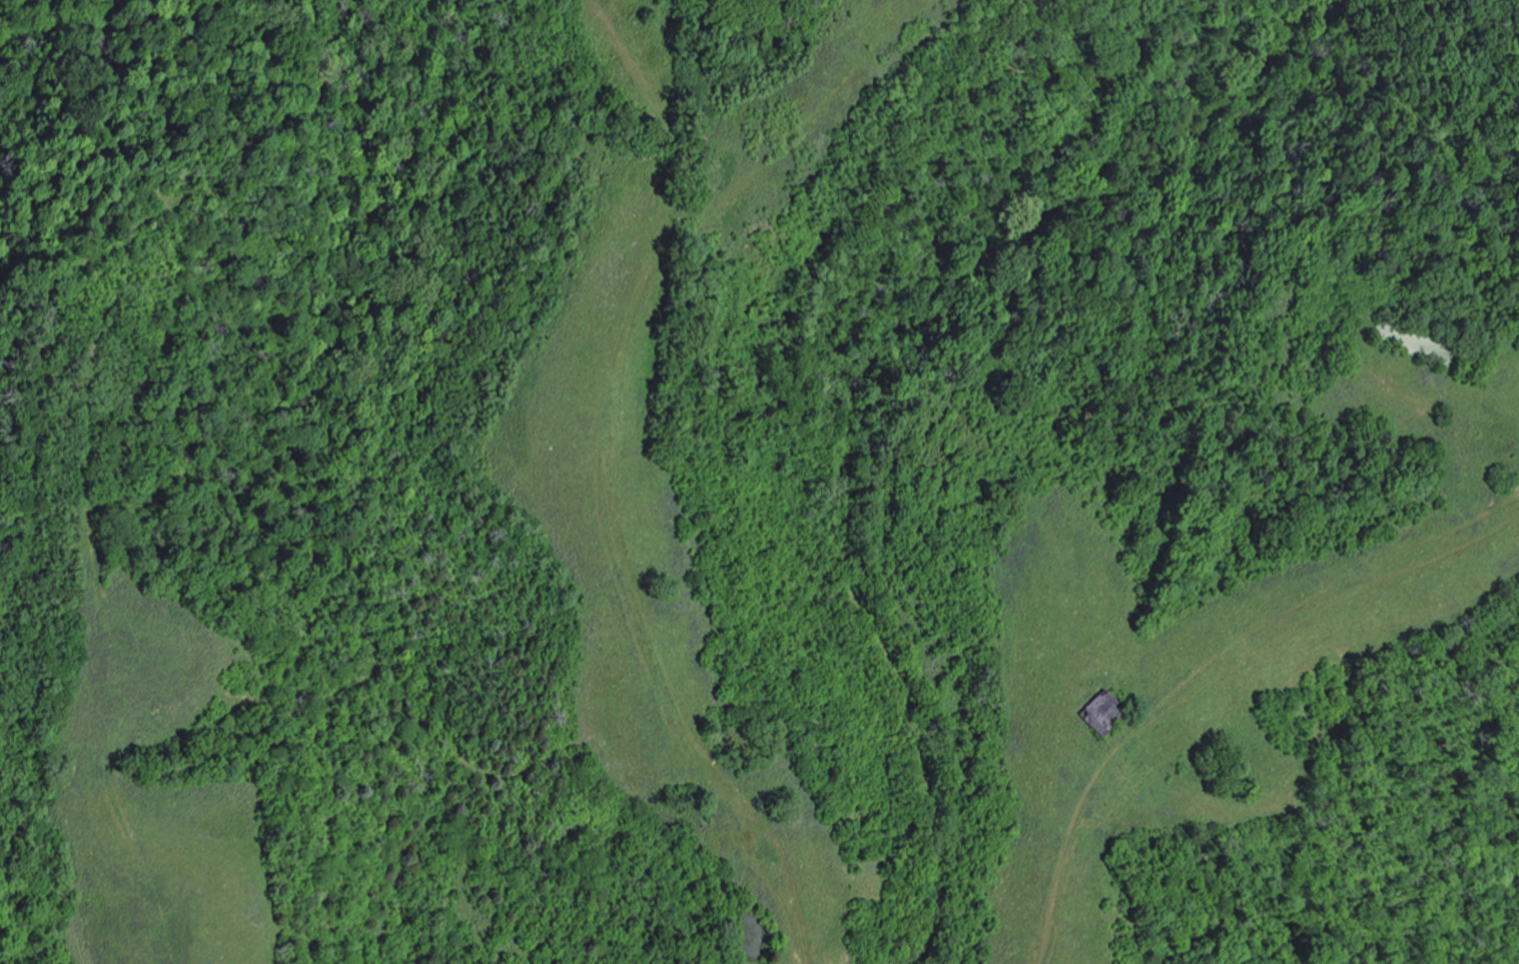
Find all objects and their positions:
road: (1206, 665)

